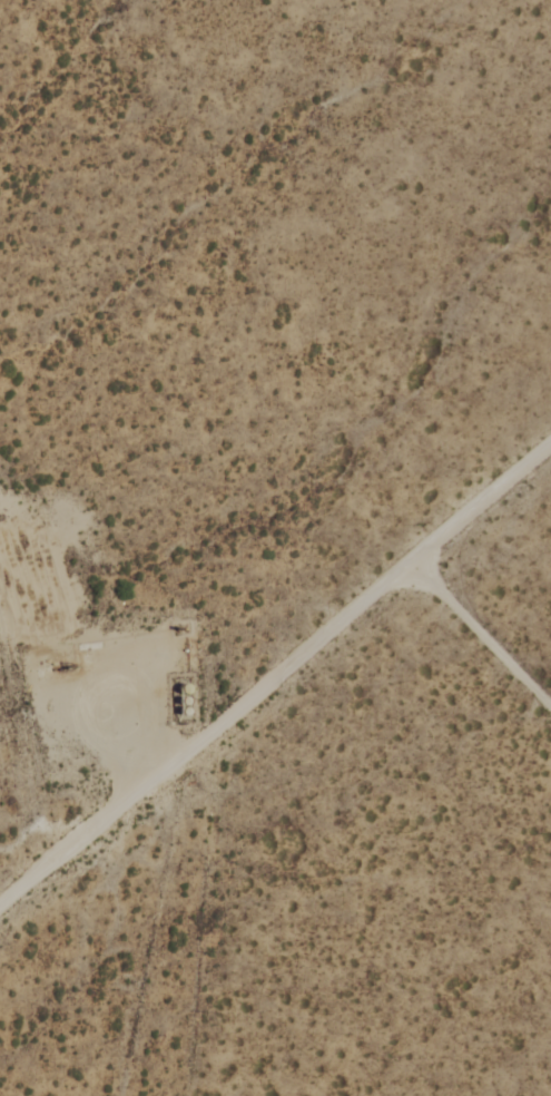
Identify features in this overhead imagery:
road: (277, 681)

